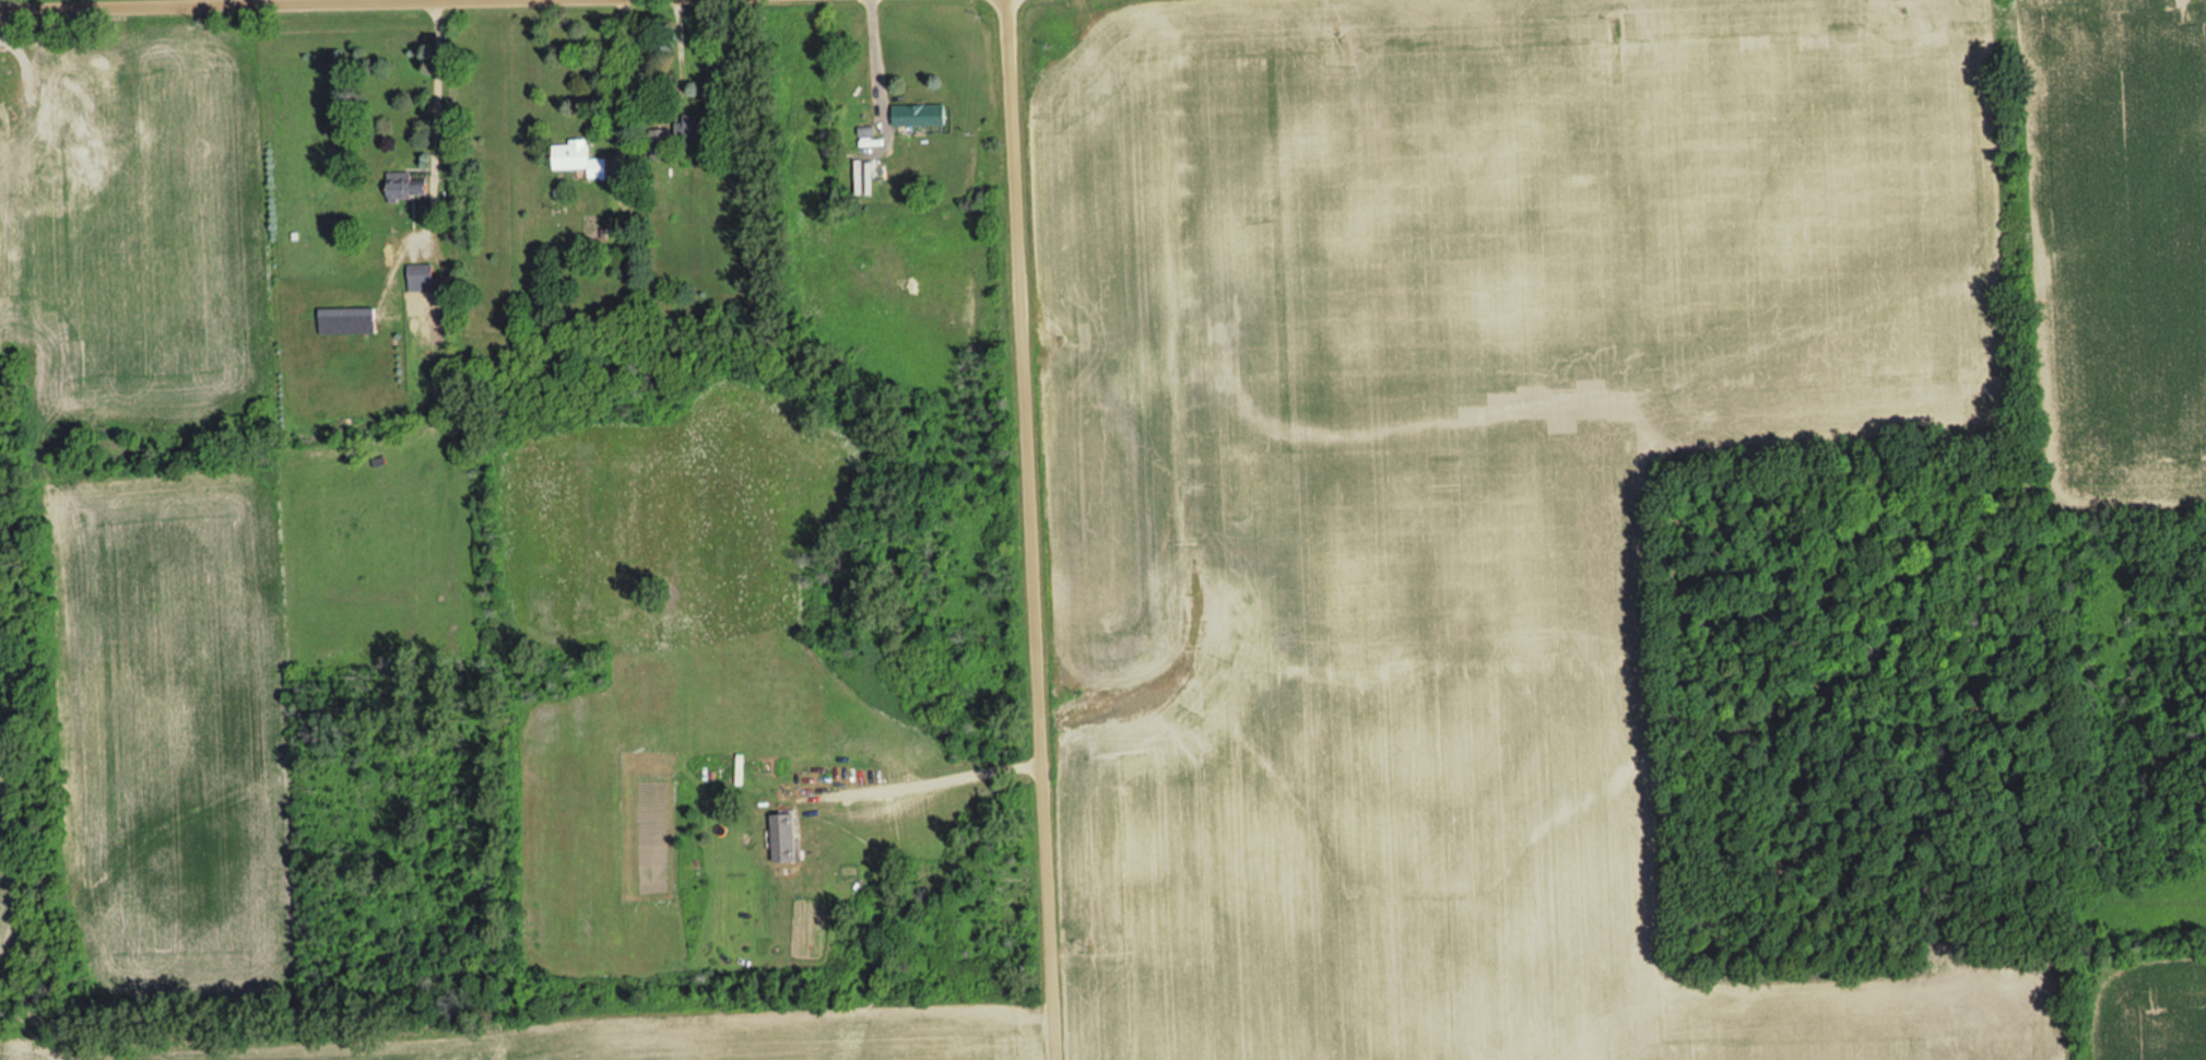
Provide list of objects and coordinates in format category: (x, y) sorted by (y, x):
road: (131, 3)
building: (62, 58)
building: (920, 115)
building: (121, 130)
building: (696, 130)
building: (662, 144)
building: (59, 146)
building: (579, 158)
building: (66, 186)
building: (406, 186)
building: (423, 278)
building: (349, 321)
road: (1033, 530)
building: (787, 838)

